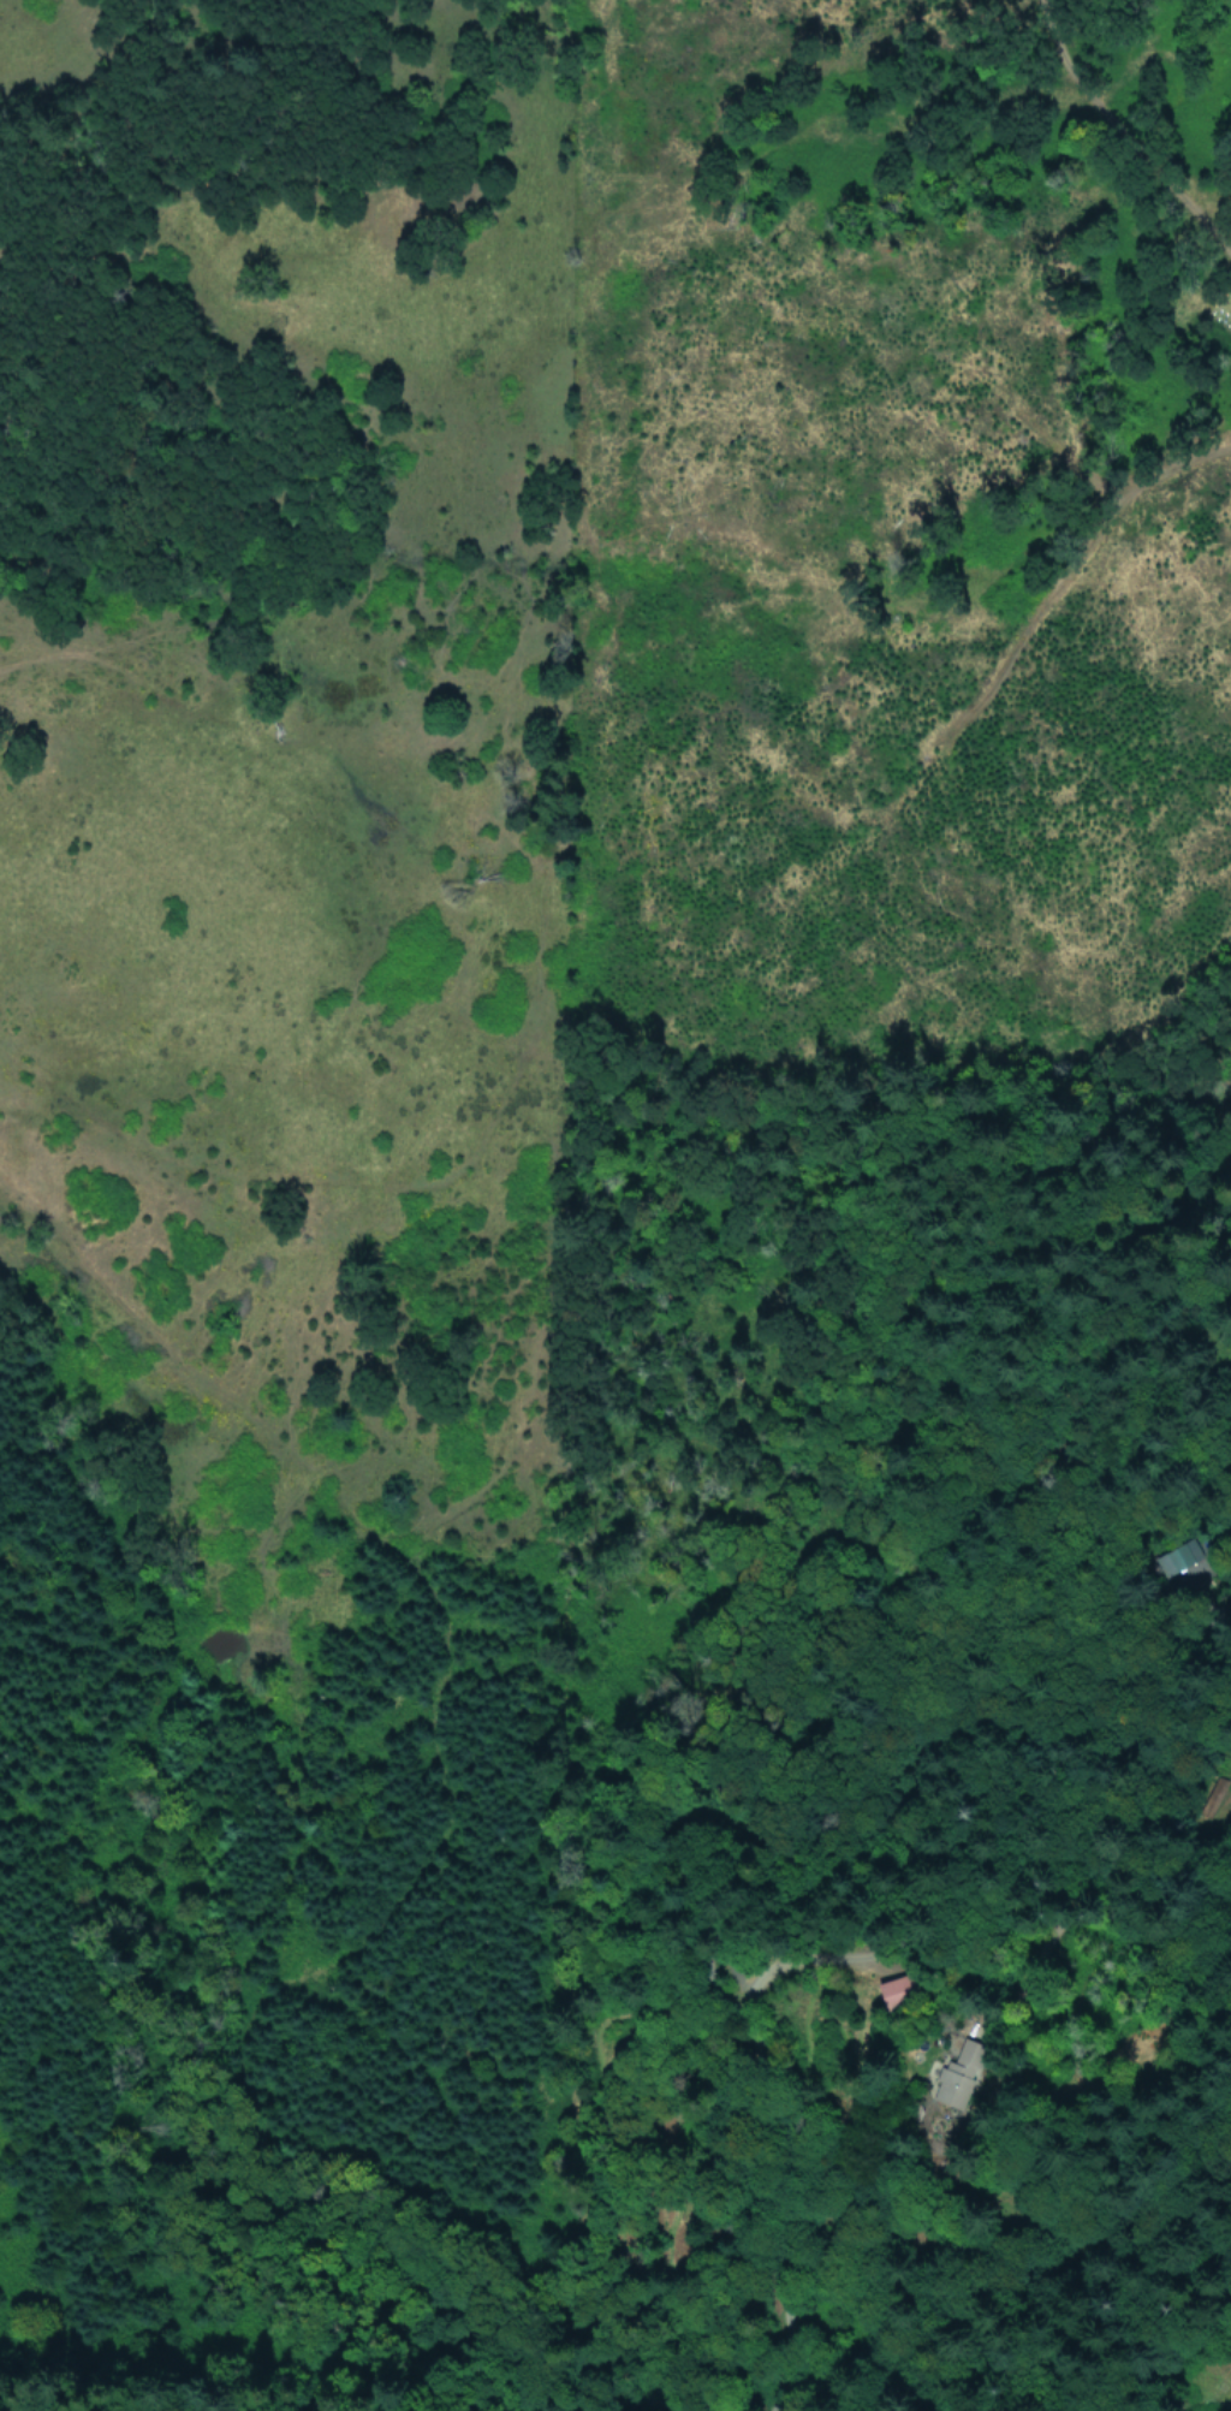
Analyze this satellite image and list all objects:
building: (1183, 1558)
building: (894, 1989)
building: (958, 2073)

